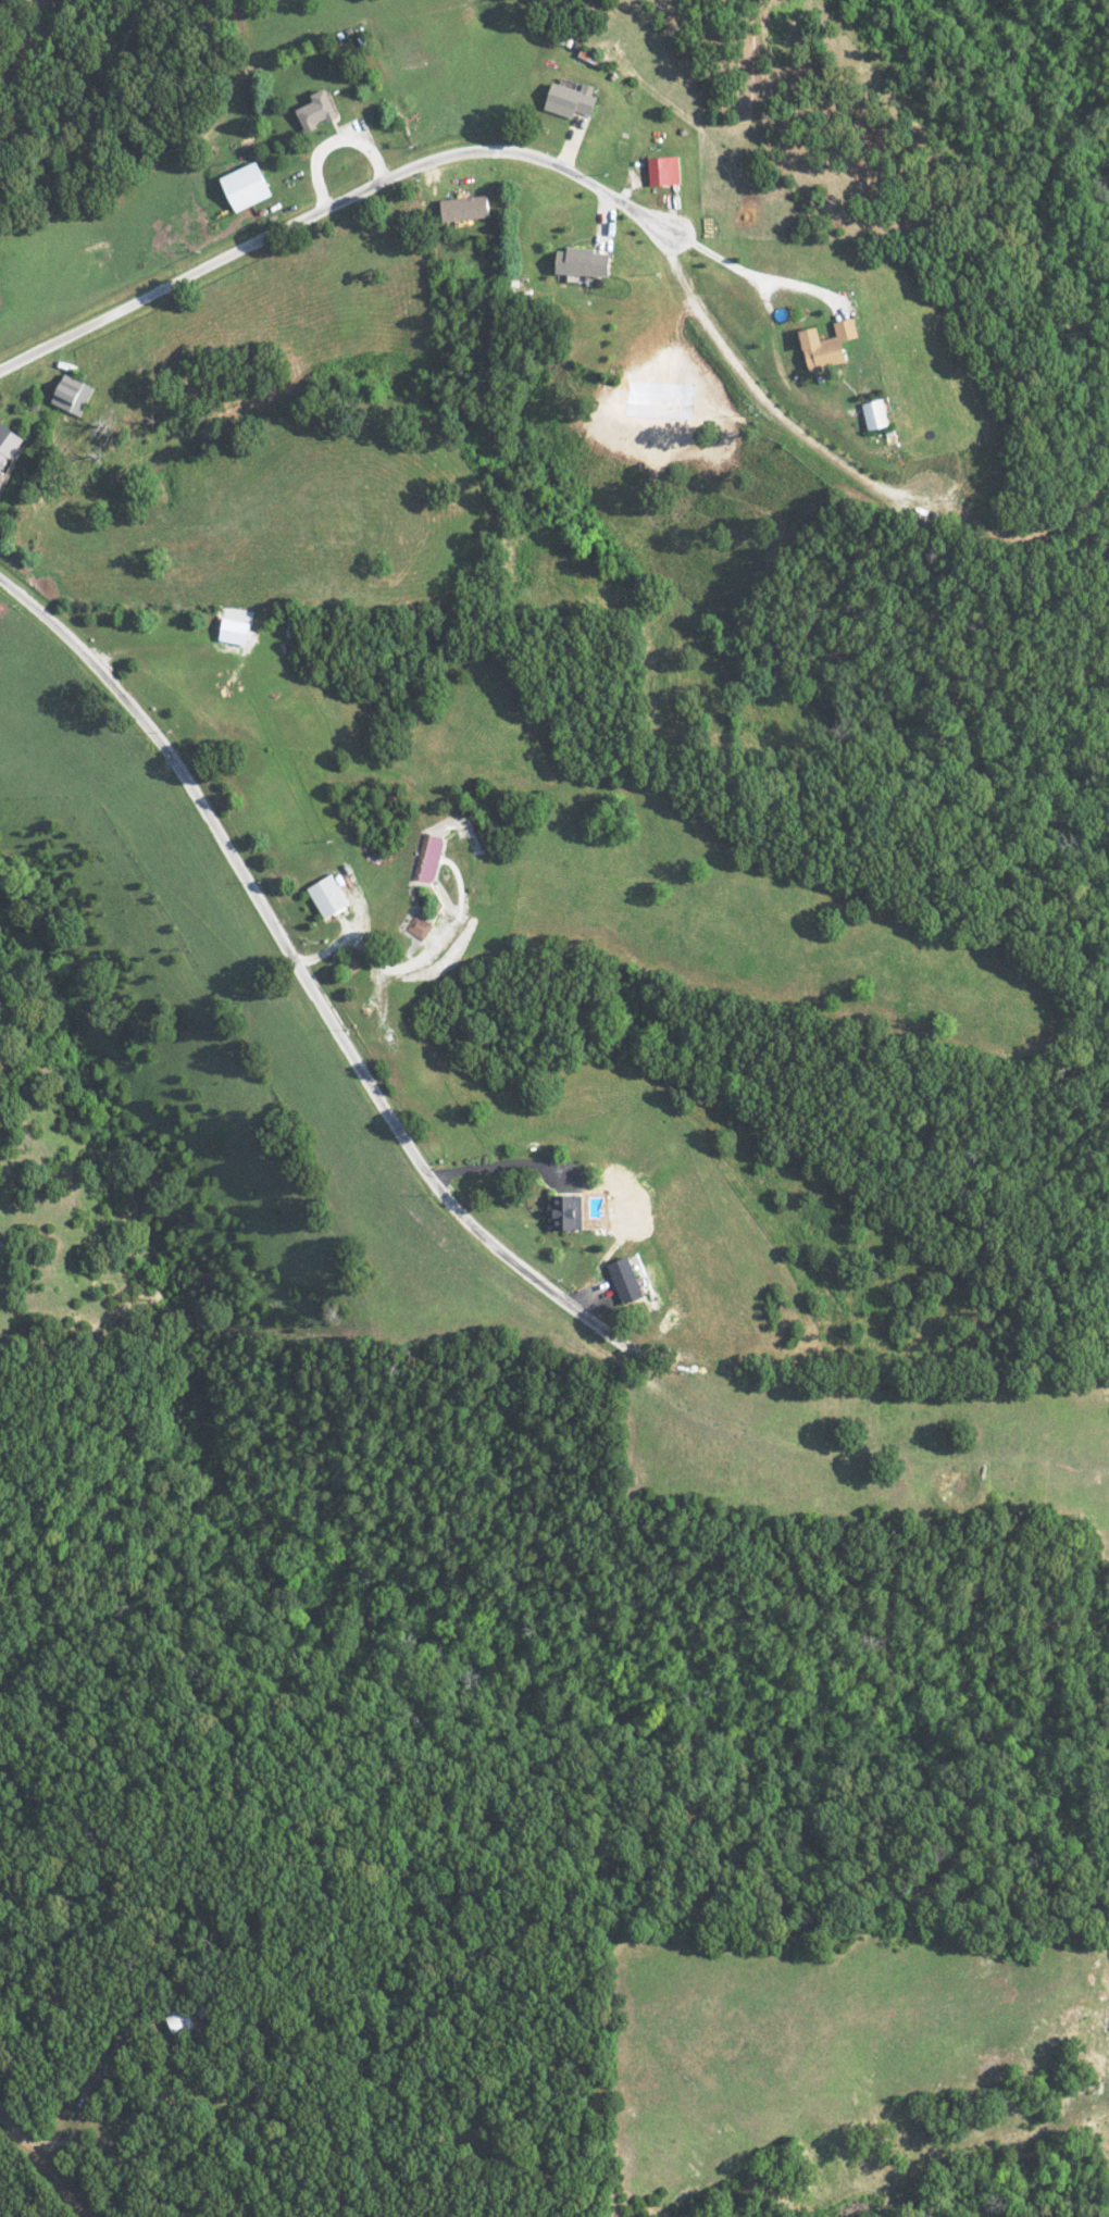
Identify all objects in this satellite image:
building: (574, 99)
building: (320, 111)
building: (665, 171)
building: (248, 186)
road: (328, 208)
building: (468, 209)
building: (586, 262)
building: (830, 345)
building: (73, 394)
road: (762, 398)
building: (876, 414)
building: (8, 451)
building: (237, 630)
building: (429, 858)
building: (329, 896)
building: (420, 926)
road: (295, 962)
building: (572, 1210)
building: (627, 1280)
building: (183, 2022)

